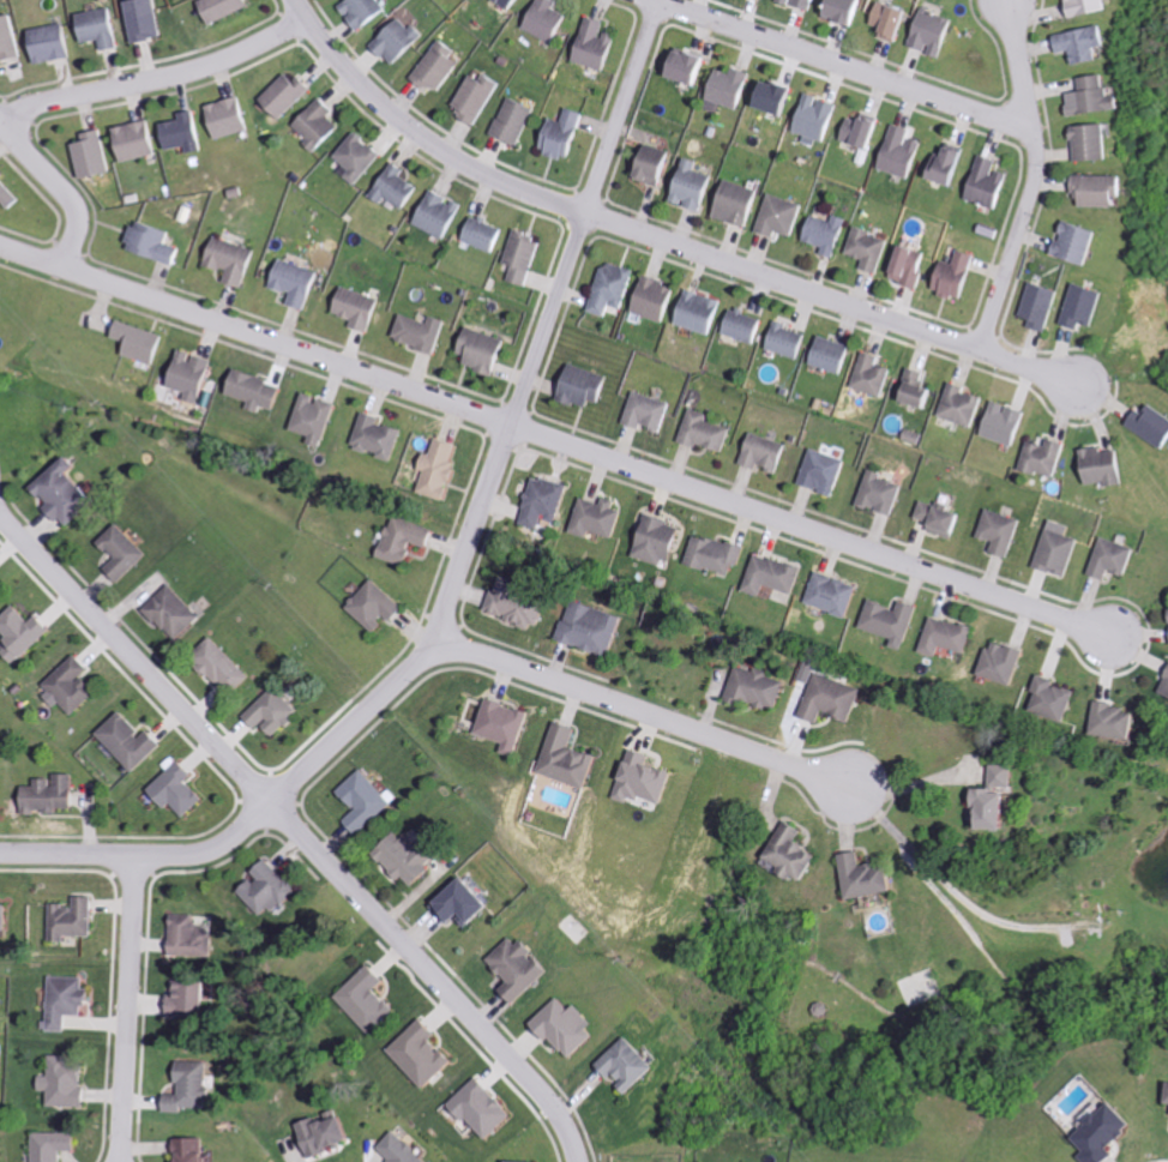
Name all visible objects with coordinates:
building: (504, 4)
building: (795, 4)
building: (1080, 7)
building: (216, 8)
building: (837, 11)
building: (357, 12)
building: (538, 19)
building: (136, 20)
building: (884, 23)
building: (91, 29)
building: (926, 34)
building: (6, 40)
building: (392, 41)
building: (1077, 43)
building: (43, 44)
building: (590, 47)
road: (844, 65)
building: (433, 68)
building: (680, 68)
road: (151, 77)
building: (724, 89)
building: (278, 96)
building: (470, 98)
building: (767, 98)
building: (1086, 98)
building: (221, 118)
building: (811, 119)
building: (508, 122)
building: (313, 126)
building: (857, 132)
building: (177, 133)
building: (558, 136)
building: (130, 142)
building: (1086, 143)
building: (895, 152)
building: (86, 156)
building: (353, 157)
building: (646, 164)
building: (944, 164)
road: (1032, 179)
road: (59, 183)
building: (686, 187)
building: (391, 188)
building: (1096, 191)
building: (6, 197)
building: (729, 203)
road: (582, 210)
building: (433, 215)
building: (773, 217)
building: (820, 234)
building: (480, 235)
road: (650, 236)
building: (1070, 243)
building: (147, 245)
building: (863, 249)
building: (517, 259)
building: (227, 261)
building: (903, 267)
building: (950, 277)
building: (290, 283)
building: (606, 289)
building: (650, 300)
building: (1035, 307)
building: (1077, 307)
building: (351, 308)
building: (694, 313)
building: (740, 326)
building: (414, 333)
building: (781, 341)
building: (134, 342)
building: (476, 351)
building: (826, 355)
building: (867, 375)
building: (186, 377)
building: (574, 386)
building: (251, 391)
building: (911, 391)
building: (955, 407)
building: (642, 413)
building: (309, 419)
building: (998, 425)
building: (1145, 426)
building: (699, 433)
building: (372, 438)
road: (556, 438)
building: (759, 453)
building: (1036, 459)
building: (1095, 468)
building: (433, 471)
building: (817, 472)
building: (68, 493)
building: (874, 494)
building: (538, 502)
building: (592, 519)
building: (934, 519)
building: (993, 532)
building: (408, 540)
building: (651, 541)
building: (126, 552)
building: (1050, 554)
building: (710, 555)
building: (1106, 560)
building: (1, 572)
building: (769, 576)
building: (829, 595)
building: (519, 603)
building: (379, 606)
building: (176, 612)
building: (885, 622)
building: (1166, 625)
building: (596, 627)
building: (25, 632)
building: (941, 638)
building: (223, 663)
building: (995, 663)
building: (76, 685)
building: (1162, 686)
building: (760, 687)
building: (832, 699)
building: (1046, 700)
building: (276, 711)
road: (645, 717)
building: (1108, 722)
building: (507, 724)
building: (133, 741)
road: (332, 742)
building: (571, 757)
building: (648, 778)
building: (182, 789)
building: (68, 790)
building: (1003, 797)
building: (368, 801)
road: (299, 832)
building: (799, 853)
building: (411, 857)
building: (872, 877)
building: (272, 889)
building: (466, 903)
building: (5, 916)
building: (76, 919)
building: (194, 937)
building: (523, 968)
building: (192, 999)
building: (371, 999)
building: (70, 1000)
road: (127, 1009)
building: (571, 1028)
building: (428, 1054)
building: (633, 1065)
building: (68, 1083)
building: (193, 1086)
building: (488, 1108)
building: (332, 1133)
building: (1107, 1133)
building: (56, 1145)
building: (195, 1150)
building: (403, 1150)
building: (518, 1161)

